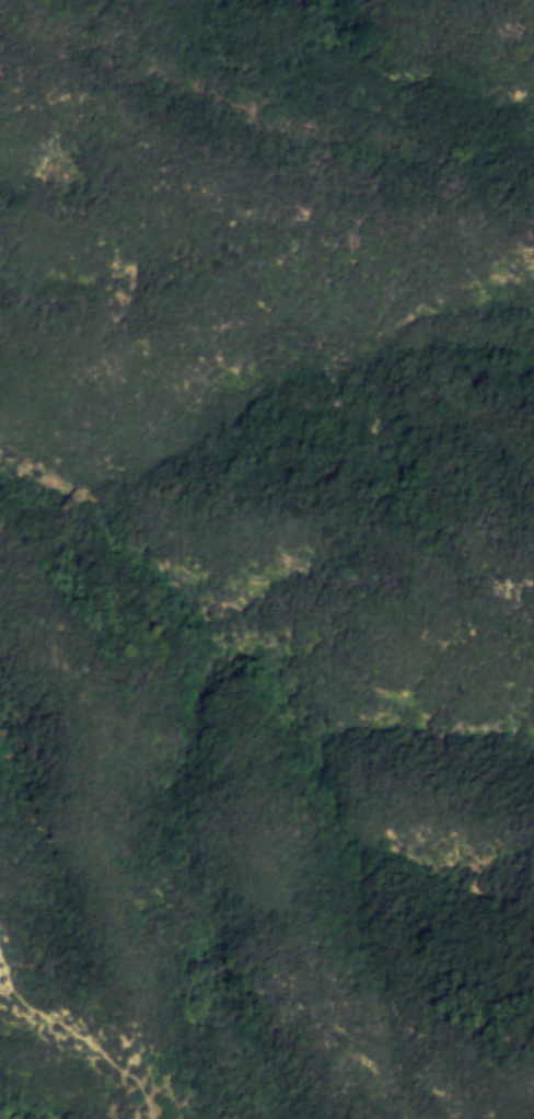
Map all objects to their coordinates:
road: (65, 1034)

